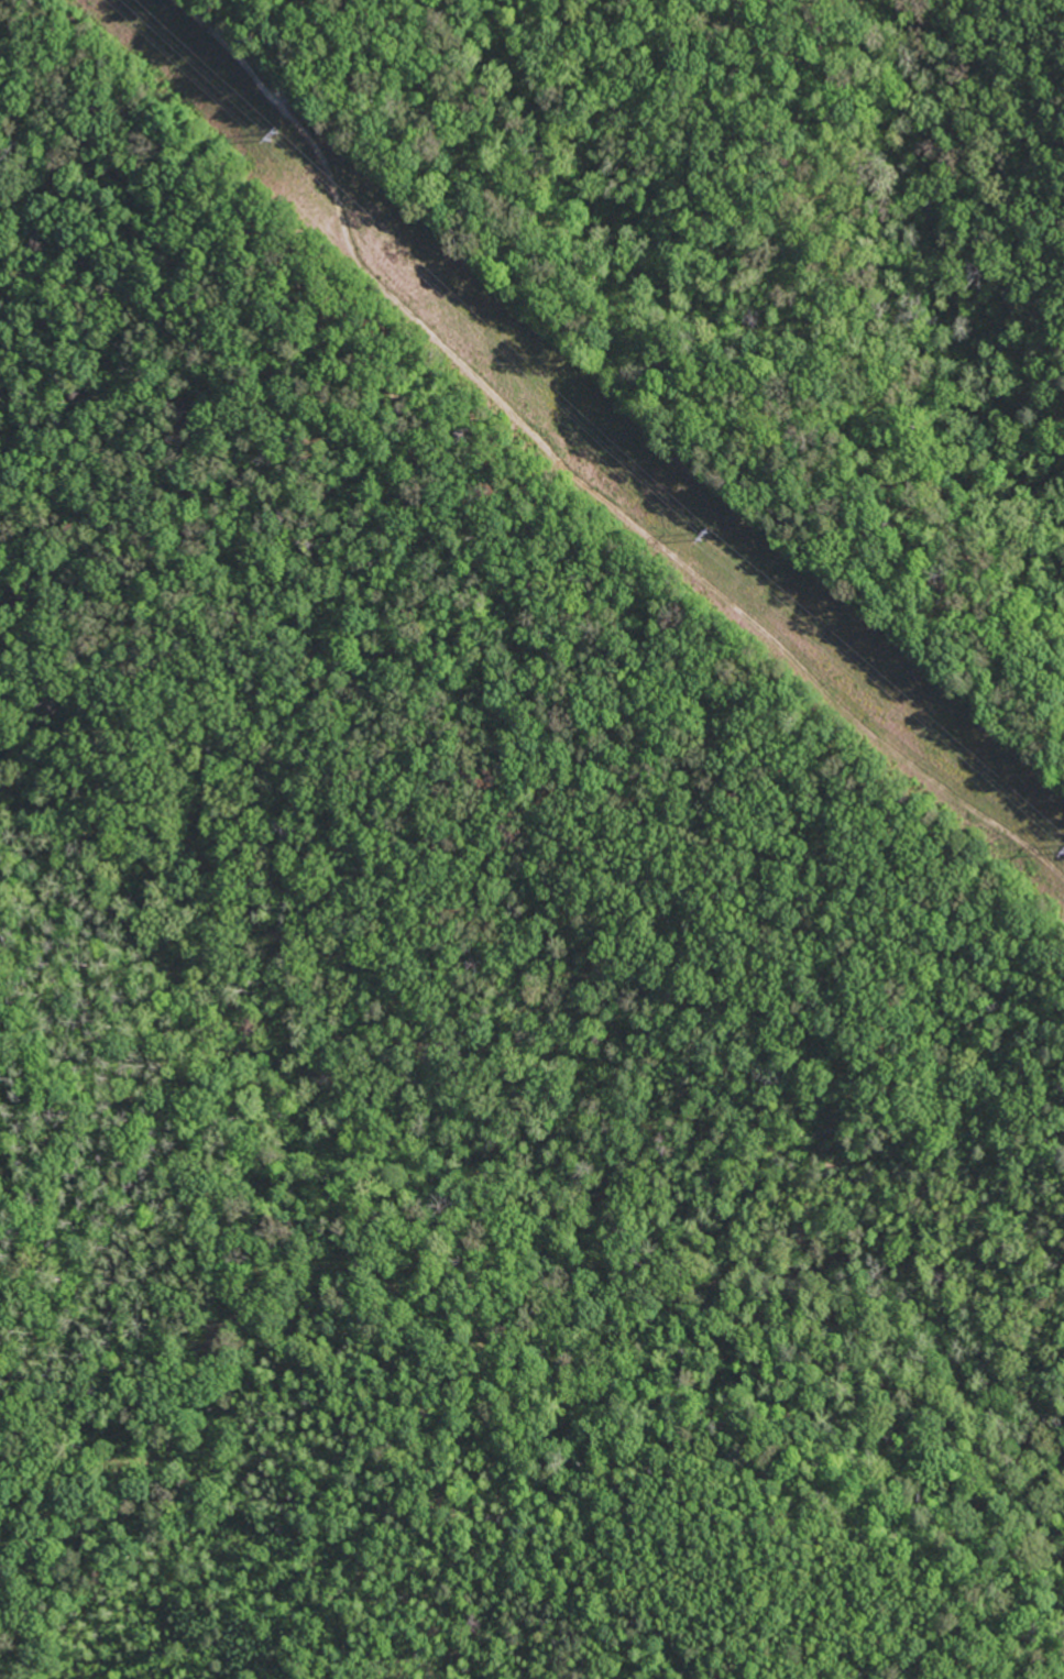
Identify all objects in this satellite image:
road: (1, 1)
power tower: (268, 140)
power tower: (1056, 843)

